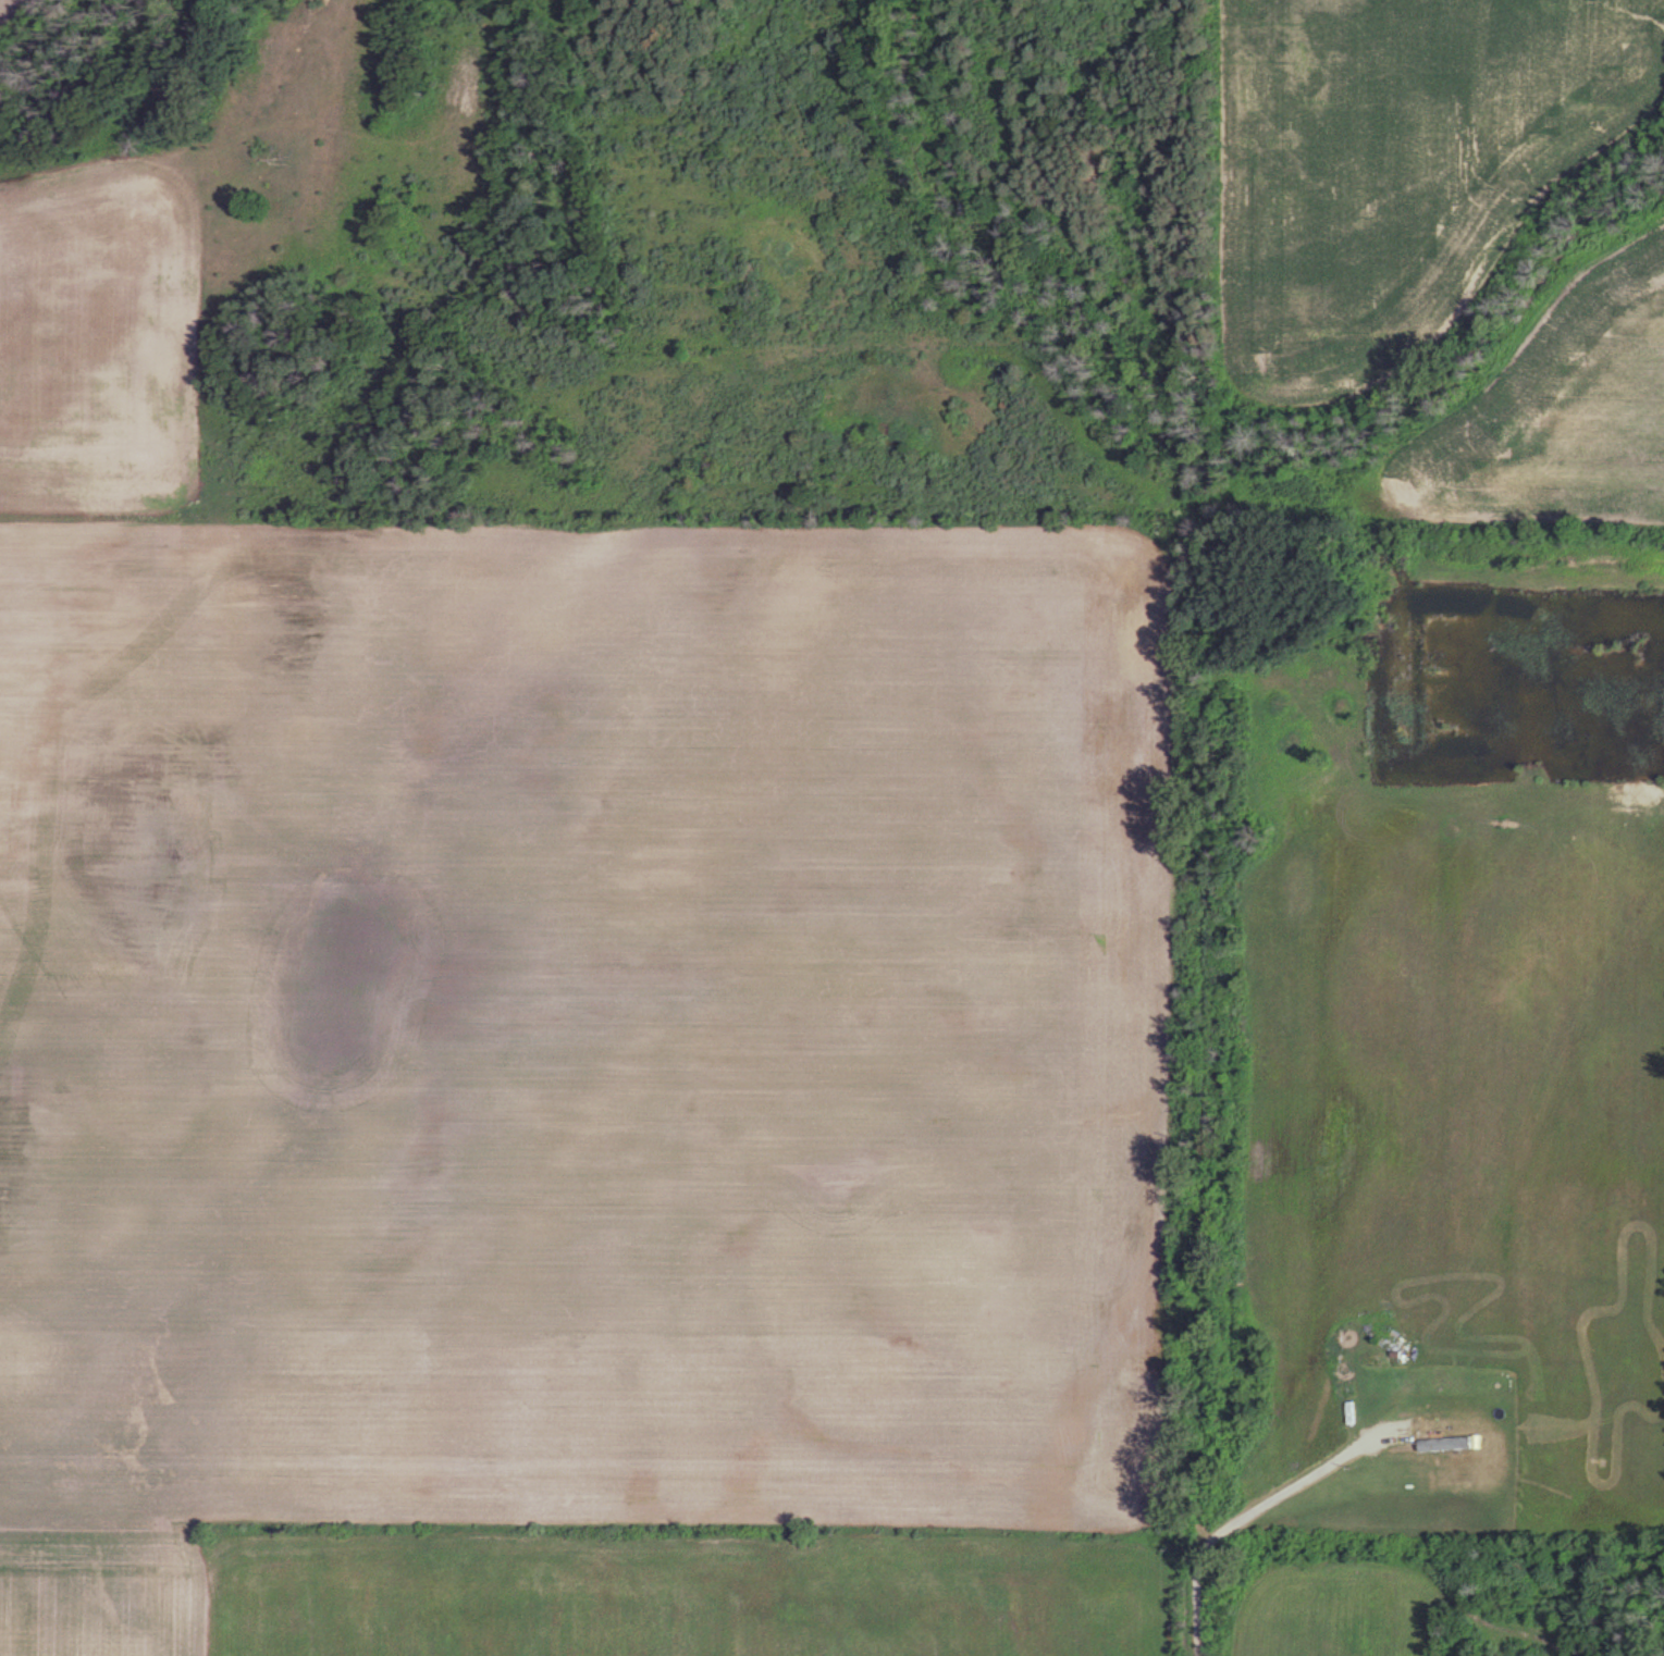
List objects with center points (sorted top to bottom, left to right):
road: (1200, 1234)
building: (1450, 1444)
road: (1299, 1481)

